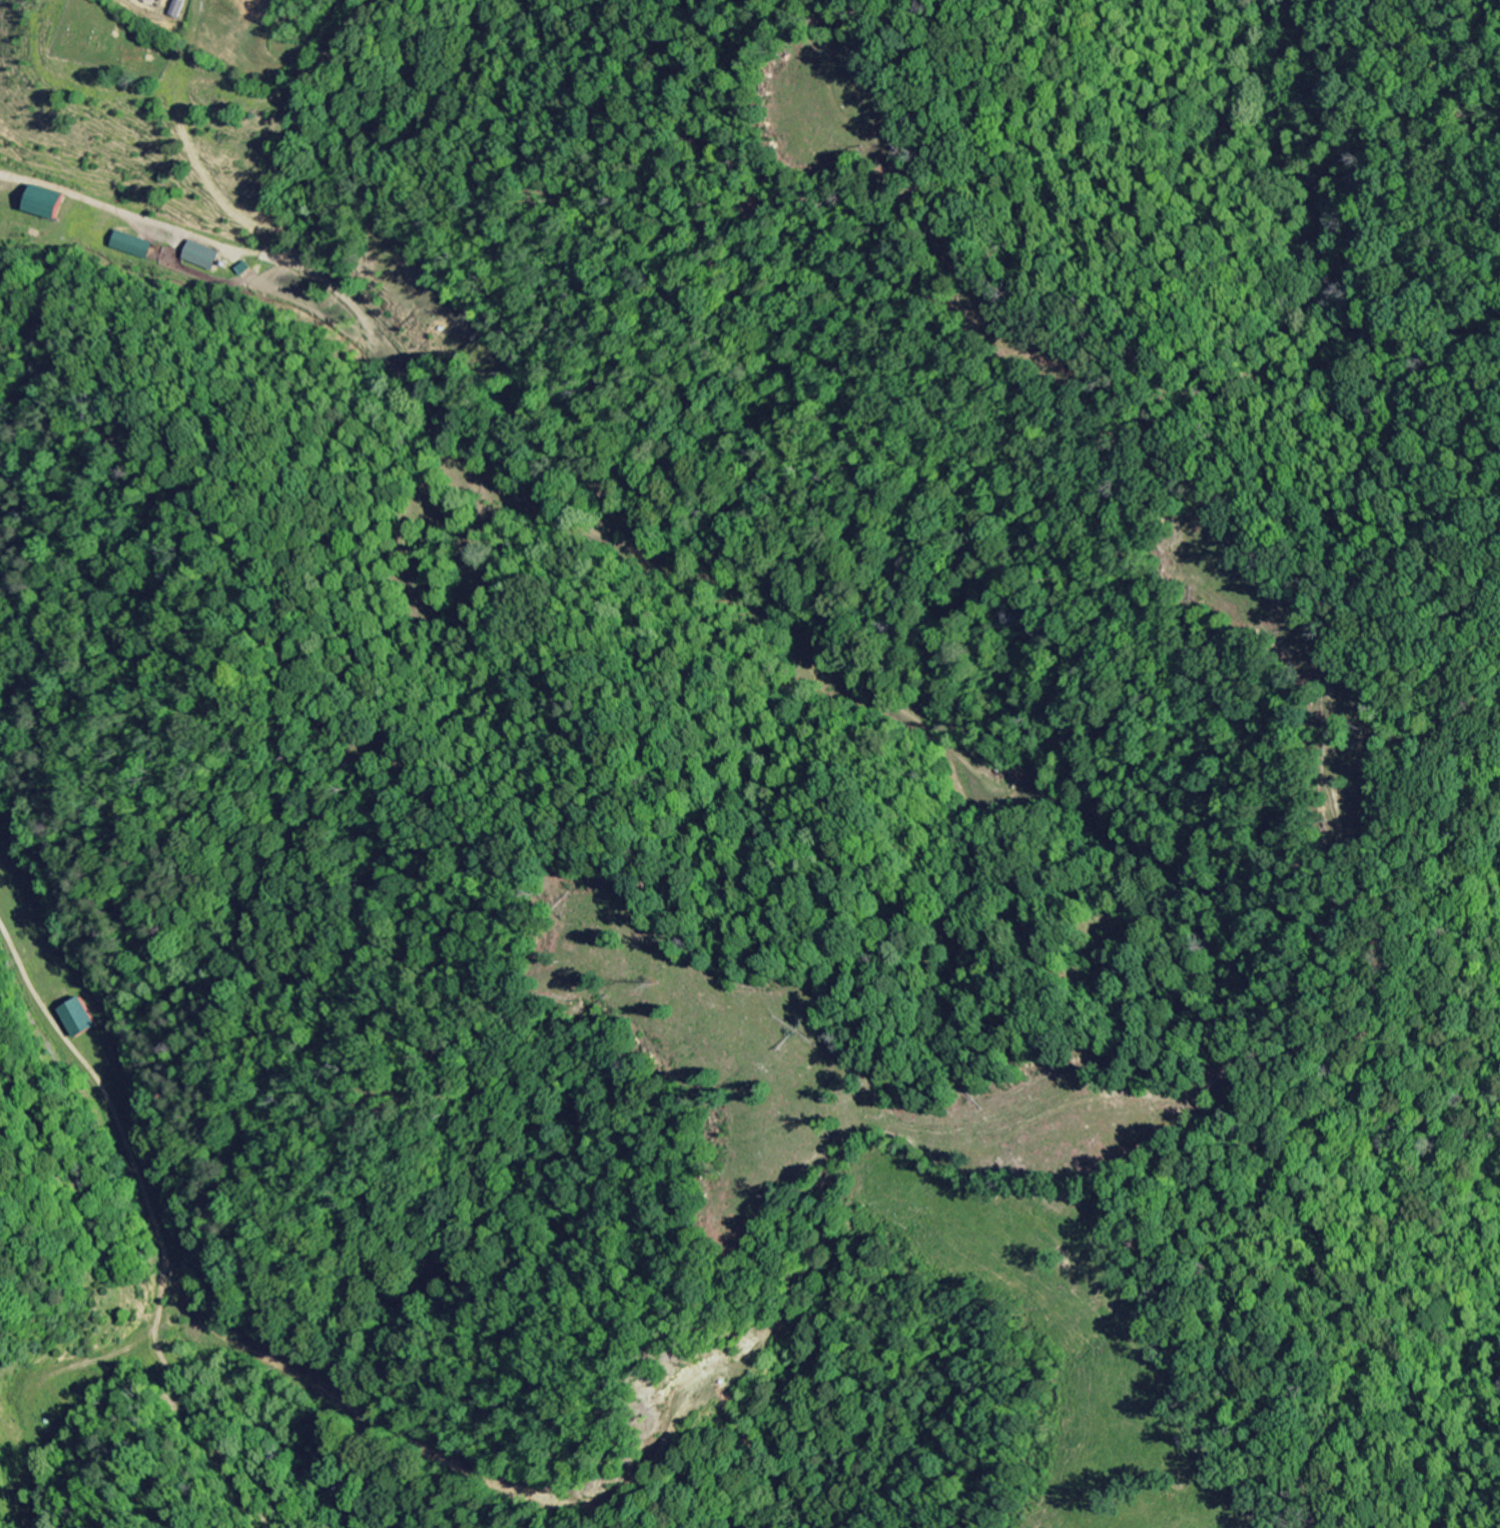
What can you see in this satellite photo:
building: (176, 9)
building: (43, 203)
building: (131, 246)
building: (201, 256)
building: (78, 1019)

